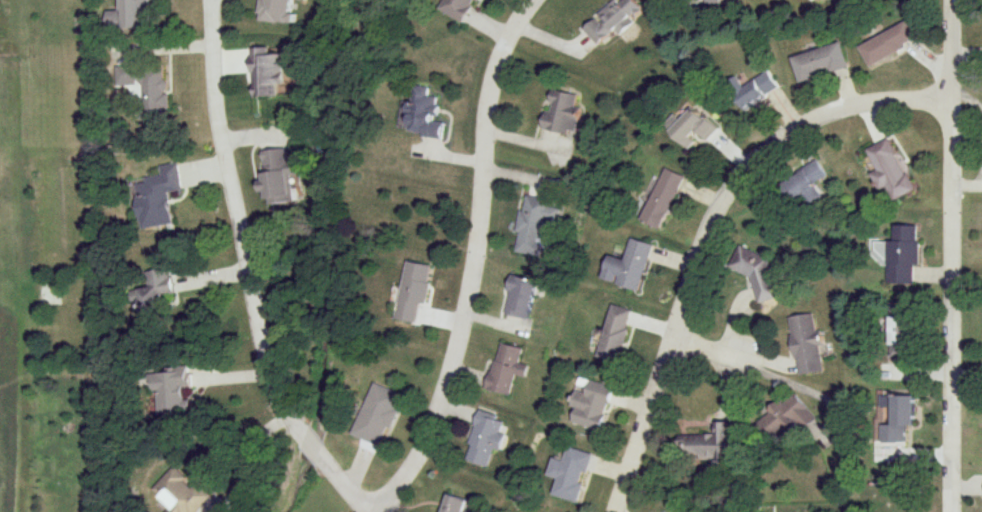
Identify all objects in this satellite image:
building: (707, 2)
building: (458, 9)
building: (276, 11)
building: (133, 14)
building: (611, 20)
building: (887, 44)
building: (819, 63)
building: (268, 74)
building: (145, 89)
building: (755, 92)
building: (559, 113)
building: (422, 114)
building: (692, 128)
building: (888, 172)
building: (279, 177)
building: (803, 187)
building: (157, 196)
building: (661, 199)
building: (534, 224)
road: (709, 229)
road: (953, 255)
building: (903, 256)
crop: (10, 257)
road: (475, 260)
building: (628, 267)
building: (755, 271)
road: (247, 272)
building: (154, 291)
building: (413, 293)
building: (51, 294)
building: (519, 297)
building: (901, 330)
building: (614, 334)
building: (805, 345)
road: (705, 349)
building: (505, 369)
building: (170, 393)
building: (589, 405)
building: (377, 415)
building: (783, 419)
building: (897, 419)
building: (484, 438)
building: (708, 448)
building: (569, 474)
building: (179, 492)
building: (454, 505)

